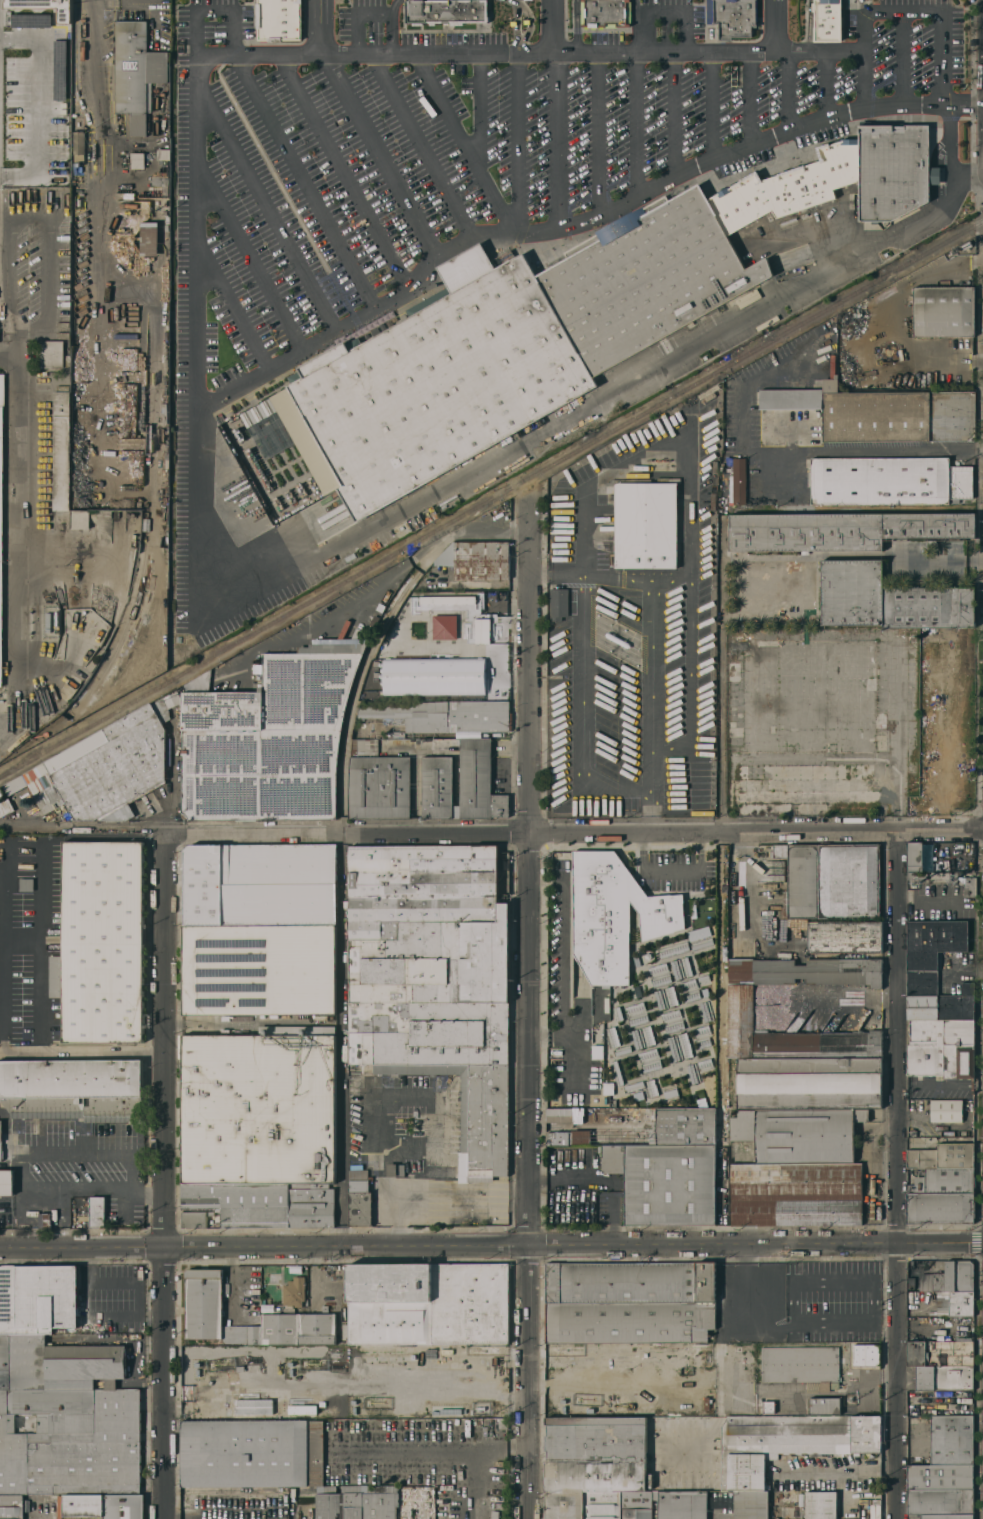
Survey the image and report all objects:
building: (29, 3)
road: (861, 6)
building: (63, 7)
road: (680, 8)
road: (212, 9)
building: (447, 13)
building: (604, 13)
road: (357, 16)
building: (732, 16)
building: (278, 19)
building: (30, 20)
building: (827, 20)
road: (529, 23)
road: (808, 24)
road: (391, 25)
road: (515, 25)
road: (575, 25)
road: (635, 25)
road: (774, 25)
road: (549, 26)
road: (320, 27)
building: (61, 53)
road: (899, 59)
building: (135, 72)
building: (9, 76)
road: (864, 78)
road: (823, 80)
road: (789, 84)
road: (748, 95)
road: (712, 100)
road: (475, 106)
road: (670, 109)
road: (635, 118)
road: (595, 127)
road: (517, 136)
road: (549, 139)
road: (949, 140)
parking lot: (545, 143)
building: (78, 145)
road: (423, 146)
building: (163, 153)
road: (379, 156)
building: (137, 160)
building: (61, 166)
building: (77, 166)
road: (345, 166)
building: (894, 169)
road: (302, 177)
building: (789, 185)
road: (632, 186)
building: (77, 201)
road: (43, 210)
building: (129, 210)
road: (261, 211)
road: (4, 217)
road: (98, 219)
building: (148, 240)
road: (247, 259)
building: (861, 261)
road: (976, 275)
building: (645, 276)
building: (812, 293)
building: (748, 298)
road: (231, 301)
building: (942, 310)
road: (354, 312)
road: (885, 312)
road: (195, 320)
building: (757, 325)
building: (62, 329)
building: (50, 353)
road: (976, 358)
road: (8, 359)
building: (430, 383)
building: (881, 411)
building: (60, 450)
road: (806, 450)
building: (888, 479)
building: (738, 480)
building: (0, 499)
railway: (491, 499)
road: (688, 509)
building: (79, 518)
building: (644, 521)
building: (840, 529)
road: (17, 533)
building: (724, 536)
railway: (148, 555)
building: (476, 559)
road: (938, 560)
building: (766, 574)
road: (562, 576)
road: (670, 577)
building: (888, 598)
building: (557, 603)
road: (651, 652)
road: (721, 682)
building: (442, 714)
road: (581, 715)
building: (268, 737)
road: (899, 738)
building: (103, 768)
road: (167, 769)
building: (349, 777)
building: (459, 780)
building: (377, 782)
building: (0, 791)
building: (5, 807)
road: (645, 811)
road: (652, 811)
road: (491, 832)
road: (700, 846)
building: (914, 855)
road: (656, 870)
building: (915, 874)
building: (940, 874)
road: (747, 875)
building: (831, 879)
building: (26, 883)
building: (258, 884)
building: (968, 885)
building: (613, 914)
building: (843, 936)
building: (700, 937)
building: (933, 941)
building: (100, 942)
building: (673, 948)
road: (954, 964)
building: (681, 968)
building: (258, 969)
road: (563, 970)
building: (659, 975)
building: (704, 979)
building: (434, 980)
building: (921, 982)
building: (967, 987)
building: (690, 990)
building: (635, 991)
building: (666, 998)
road: (841, 1001)
building: (940, 1006)
building: (741, 1008)
building: (706, 1010)
building: (617, 1013)
building: (636, 1013)
building: (851, 1015)
road: (535, 1018)
building: (672, 1020)
building: (941, 1031)
building: (702, 1035)
building: (613, 1037)
building: (642, 1037)
road: (165, 1039)
road: (38, 1040)
building: (679, 1046)
building: (622, 1050)
building: (597, 1051)
road: (570, 1059)
building: (649, 1060)
building: (941, 1060)
building: (698, 1070)
building: (616, 1072)
building: (808, 1082)
road: (900, 1084)
road: (939, 1084)
building: (643, 1085)
road: (973, 1085)
road: (978, 1085)
building: (607, 1087)
building: (71, 1089)
building: (670, 1092)
road: (385, 1095)
building: (259, 1107)
building: (945, 1110)
building: (684, 1126)
building: (798, 1133)
building: (1, 1139)
building: (942, 1155)
road: (21, 1168)
building: (394, 1169)
building: (440, 1172)
road: (894, 1174)
road: (604, 1179)
building: (943, 1180)
building: (6, 1181)
building: (664, 1181)
building: (795, 1193)
road: (418, 1194)
road: (510, 1194)
building: (359, 1196)
building: (265, 1204)
building: (940, 1207)
building: (96, 1211)
building: (194, 1218)
building: (44, 1219)
road: (575, 1246)
road: (83, 1248)
building: (949, 1277)
building: (910, 1282)
road: (233, 1283)
building: (292, 1293)
building: (38, 1298)
building: (629, 1301)
building: (202, 1302)
building: (426, 1303)
building: (954, 1303)
building: (292, 1328)
building: (940, 1353)
building: (866, 1354)
building: (5, 1361)
building: (62, 1363)
building: (800, 1364)
building: (944, 1377)
road: (164, 1383)
building: (824, 1405)
building: (253, 1406)
building: (768, 1406)
building: (951, 1439)
building: (70, 1441)
building: (792, 1441)
building: (251, 1452)
road: (480, 1461)
building: (592, 1465)
building: (939, 1476)
building: (792, 1497)
building: (412, 1498)
building: (938, 1501)
building: (636, 1504)
building: (682, 1504)
building: (750, 1504)
building: (820, 1504)
building: (104, 1505)
building: (353, 1505)
building: (380, 1505)
building: (11, 1506)
building: (329, 1506)
building: (870, 1511)
building: (946, 1516)

